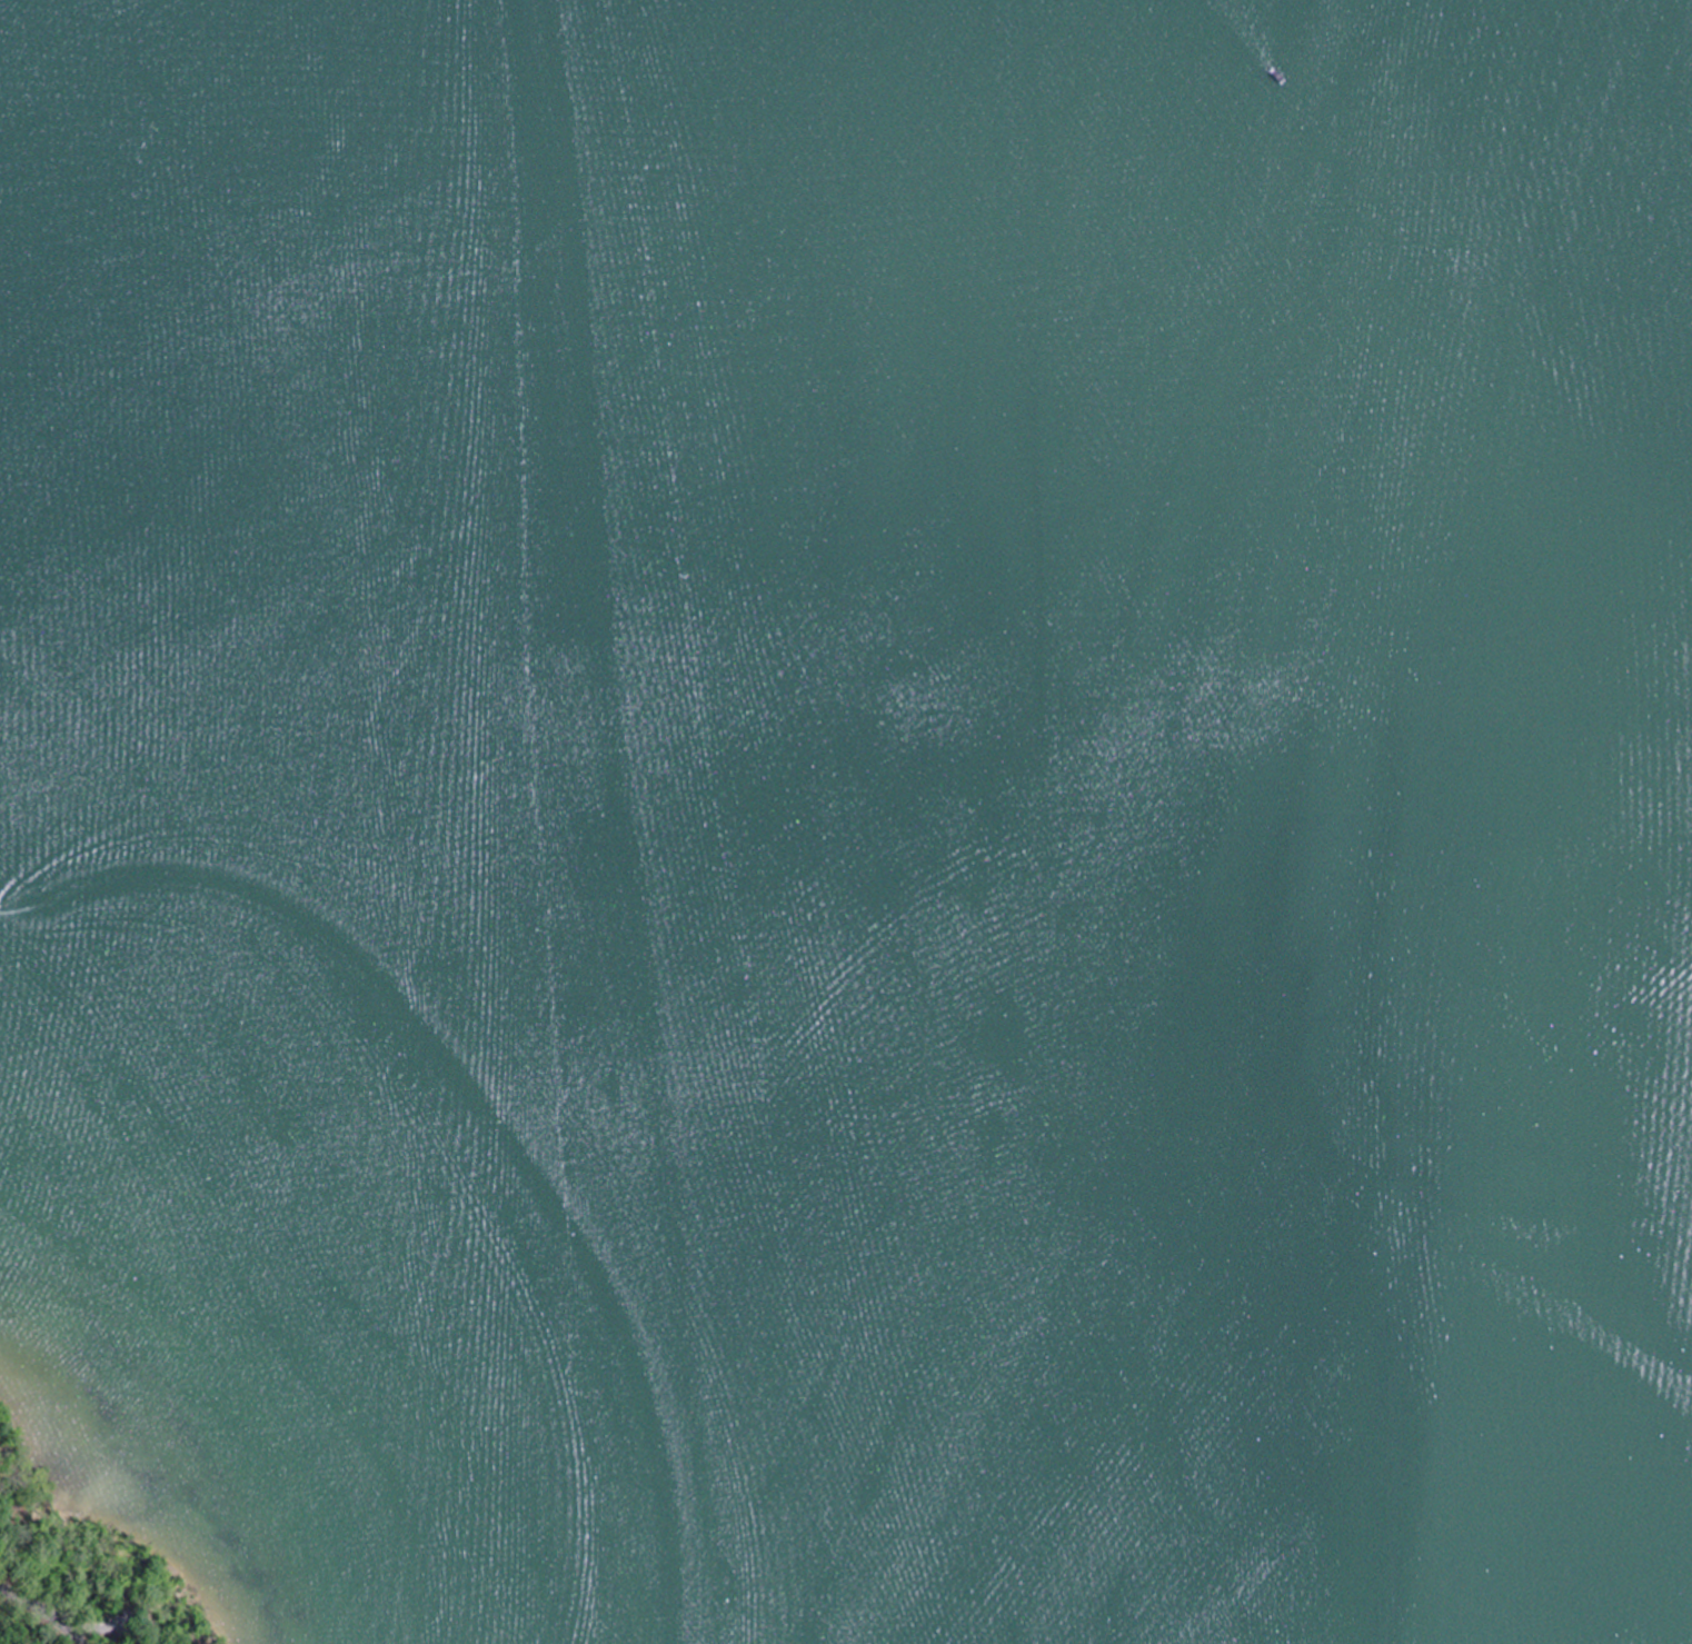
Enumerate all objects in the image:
road: (39, 1615)

